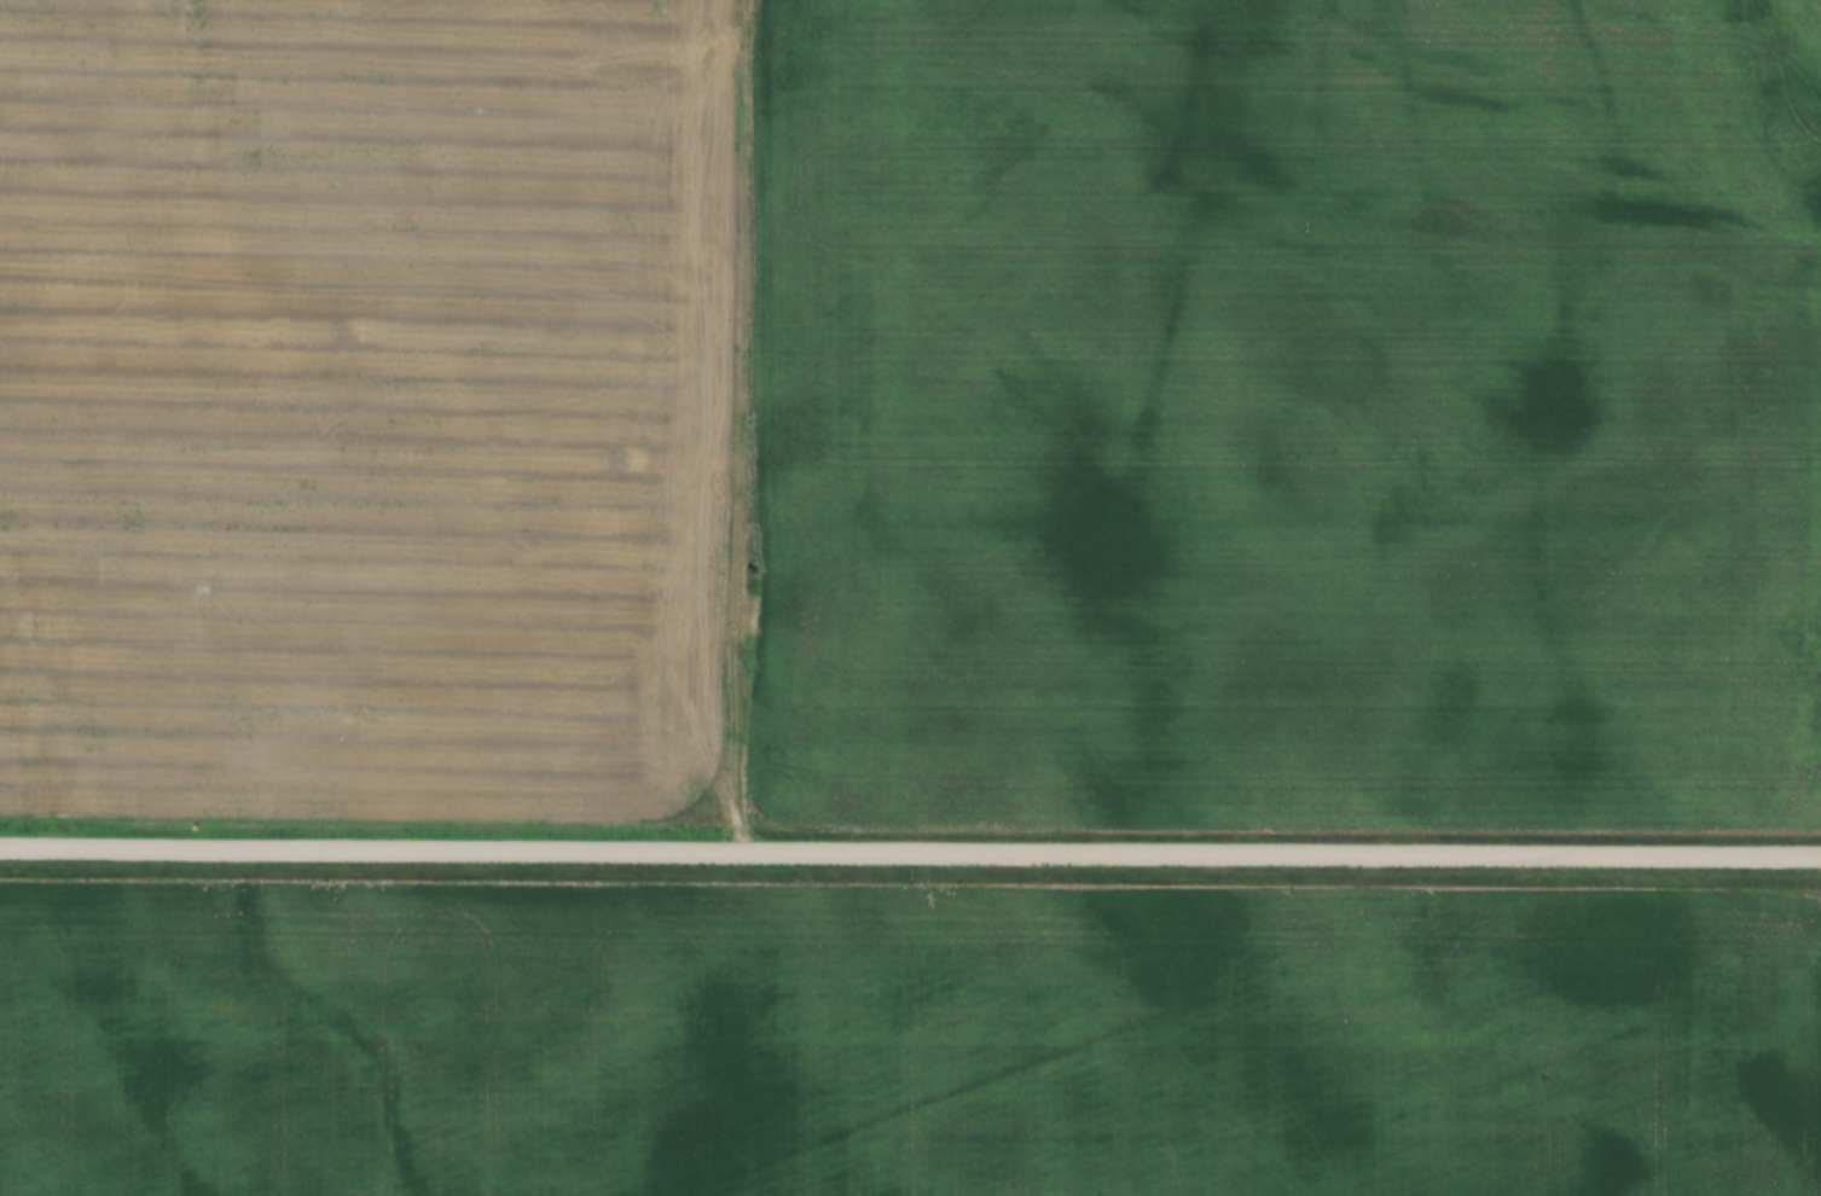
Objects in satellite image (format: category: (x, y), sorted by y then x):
road: (910, 853)

